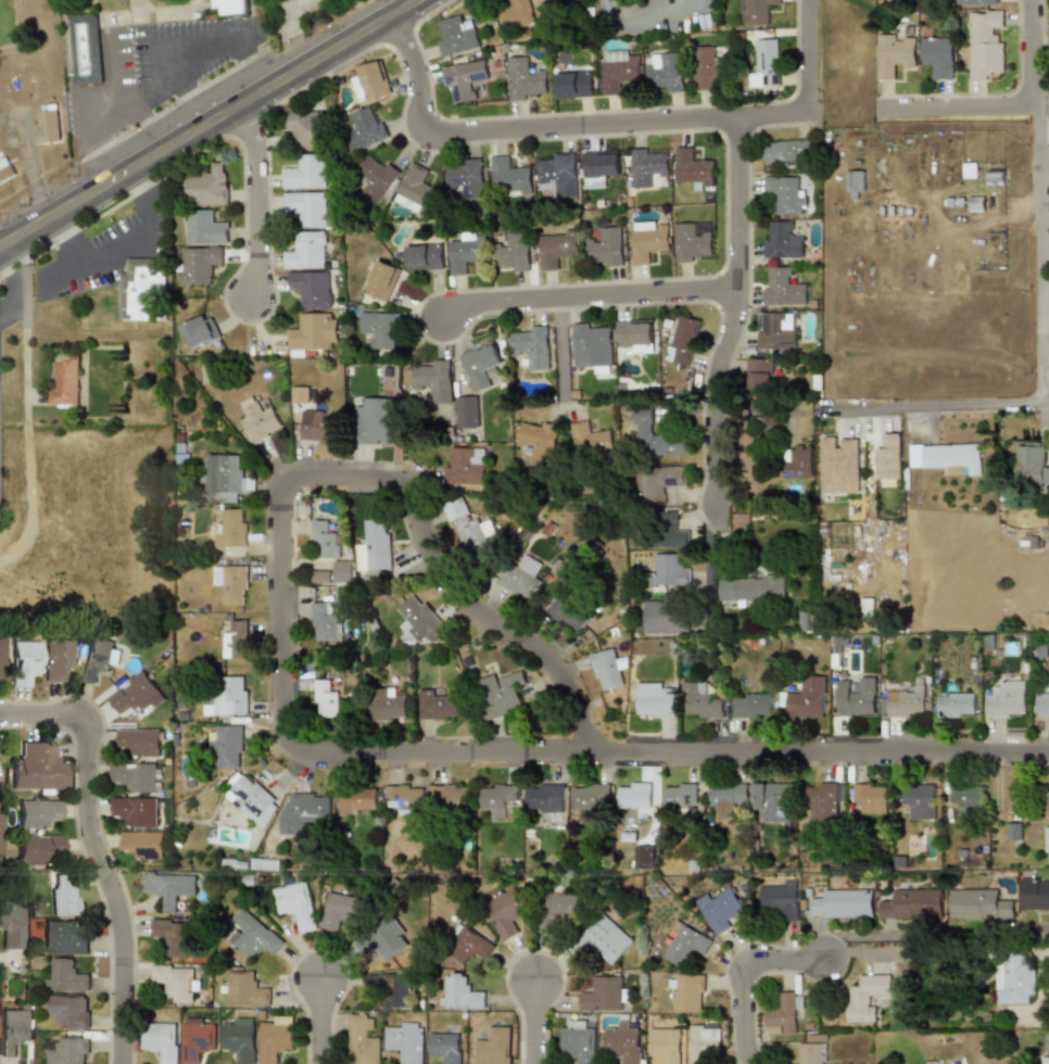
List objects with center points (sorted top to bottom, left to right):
building: (974, 2)
building: (229, 8)
building: (755, 12)
building: (516, 13)
building: (456, 37)
building: (985, 42)
building: (85, 48)
road: (153, 53)
building: (894, 53)
building: (936, 55)
road: (807, 58)
building: (768, 62)
building: (708, 68)
building: (620, 69)
building: (665, 71)
building: (464, 79)
building: (523, 79)
building: (370, 83)
building: (573, 85)
road: (182, 86)
road: (957, 111)
road: (192, 116)
road: (141, 118)
building: (47, 126)
building: (306, 129)
building: (365, 129)
road: (543, 129)
building: (787, 151)
building: (599, 167)
building: (649, 167)
building: (694, 168)
building: (305, 172)
building: (5, 173)
building: (557, 174)
building: (510, 176)
building: (465, 177)
building: (995, 177)
building: (377, 180)
building: (855, 181)
building: (210, 185)
building: (417, 191)
road: (255, 194)
building: (785, 194)
road: (1036, 201)
building: (975, 204)
building: (307, 207)
building: (205, 227)
building: (693, 241)
building: (782, 241)
road: (116, 242)
building: (648, 242)
building: (607, 246)
building: (556, 250)
building: (306, 251)
building: (467, 251)
building: (511, 253)
building: (425, 257)
building: (199, 264)
building: (381, 280)
building: (783, 287)
building: (311, 288)
building: (143, 289)
road: (15, 290)
road: (584, 296)
road: (732, 318)
building: (380, 329)
building: (200, 330)
building: (776, 331)
building: (311, 332)
building: (635, 333)
building: (683, 340)
building: (593, 345)
building: (531, 346)
road: (564, 352)
building: (482, 366)
building: (758, 377)
building: (64, 380)
building: (439, 382)
building: (300, 395)
road: (930, 403)
road: (762, 405)
building: (468, 413)
building: (258, 418)
building: (318, 427)
building: (372, 428)
building: (656, 435)
road: (26, 439)
building: (591, 439)
building: (539, 441)
building: (887, 457)
building: (948, 457)
building: (796, 460)
building: (838, 465)
building: (1031, 465)
building: (465, 466)
building: (226, 477)
building: (658, 483)
building: (231, 529)
building: (468, 529)
building: (663, 532)
building: (326, 540)
building: (377, 544)
road: (712, 566)
building: (671, 570)
building: (342, 571)
building: (320, 577)
building: (521, 578)
building: (231, 583)
building: (753, 587)
building: (865, 609)
building: (566, 616)
building: (667, 617)
building: (328, 620)
building: (418, 621)
road: (478, 629)
building: (235, 641)
building: (0, 654)
building: (96, 658)
building: (55, 659)
building: (22, 661)
building: (608, 670)
building: (135, 693)
building: (233, 696)
building: (498, 697)
building: (809, 698)
building: (325, 700)
building: (655, 700)
building: (703, 700)
building: (1007, 700)
building: (857, 702)
building: (906, 704)
building: (386, 705)
building: (435, 705)
building: (957, 705)
building: (1042, 705)
building: (755, 706)
building: (140, 742)
building: (229, 747)
road: (470, 752)
building: (35, 769)
building: (136, 776)
building: (634, 795)
building: (682, 795)
building: (1008, 795)
building: (450, 796)
building: (589, 796)
building: (730, 797)
building: (873, 797)
building: (966, 797)
building: (405, 798)
building: (496, 798)
building: (545, 798)
building: (827, 798)
building: (255, 800)
building: (775, 800)
building: (920, 800)
building: (357, 801)
building: (1046, 807)
building: (137, 811)
building: (305, 811)
building: (34, 812)
building: (1013, 831)
building: (1047, 837)
building: (143, 845)
building: (37, 848)
road: (92, 849)
building: (645, 857)
building: (267, 864)
building: (172, 888)
building: (1034, 894)
building: (61, 895)
building: (782, 899)
building: (844, 903)
building: (299, 904)
building: (913, 904)
building: (980, 904)
building: (720, 908)
building: (342, 910)
building: (556, 912)
building: (505, 914)
building: (11, 925)
road: (1024, 926)
building: (174, 935)
building: (390, 939)
building: (606, 939)
building: (63, 940)
building: (260, 940)
building: (686, 945)
building: (470, 947)
road: (742, 972)
building: (67, 975)
building: (1014, 976)
building: (178, 983)
building: (249, 989)
building: (401, 990)
building: (687, 991)
building: (462, 993)
building: (604, 995)
building: (867, 996)
building: (71, 1011)
building: (784, 1013)
road: (318, 1021)
road: (532, 1022)
building: (16, 1027)
building: (200, 1039)
building: (240, 1039)
building: (278, 1039)
building: (162, 1041)
building: (364, 1041)
building: (406, 1041)
building: (578, 1041)
building: (704, 1041)
building: (623, 1042)
building: (494, 1046)
building: (665, 1046)
building: (446, 1047)
building: (811, 1049)
building: (71, 1050)
building: (1045, 1059)

